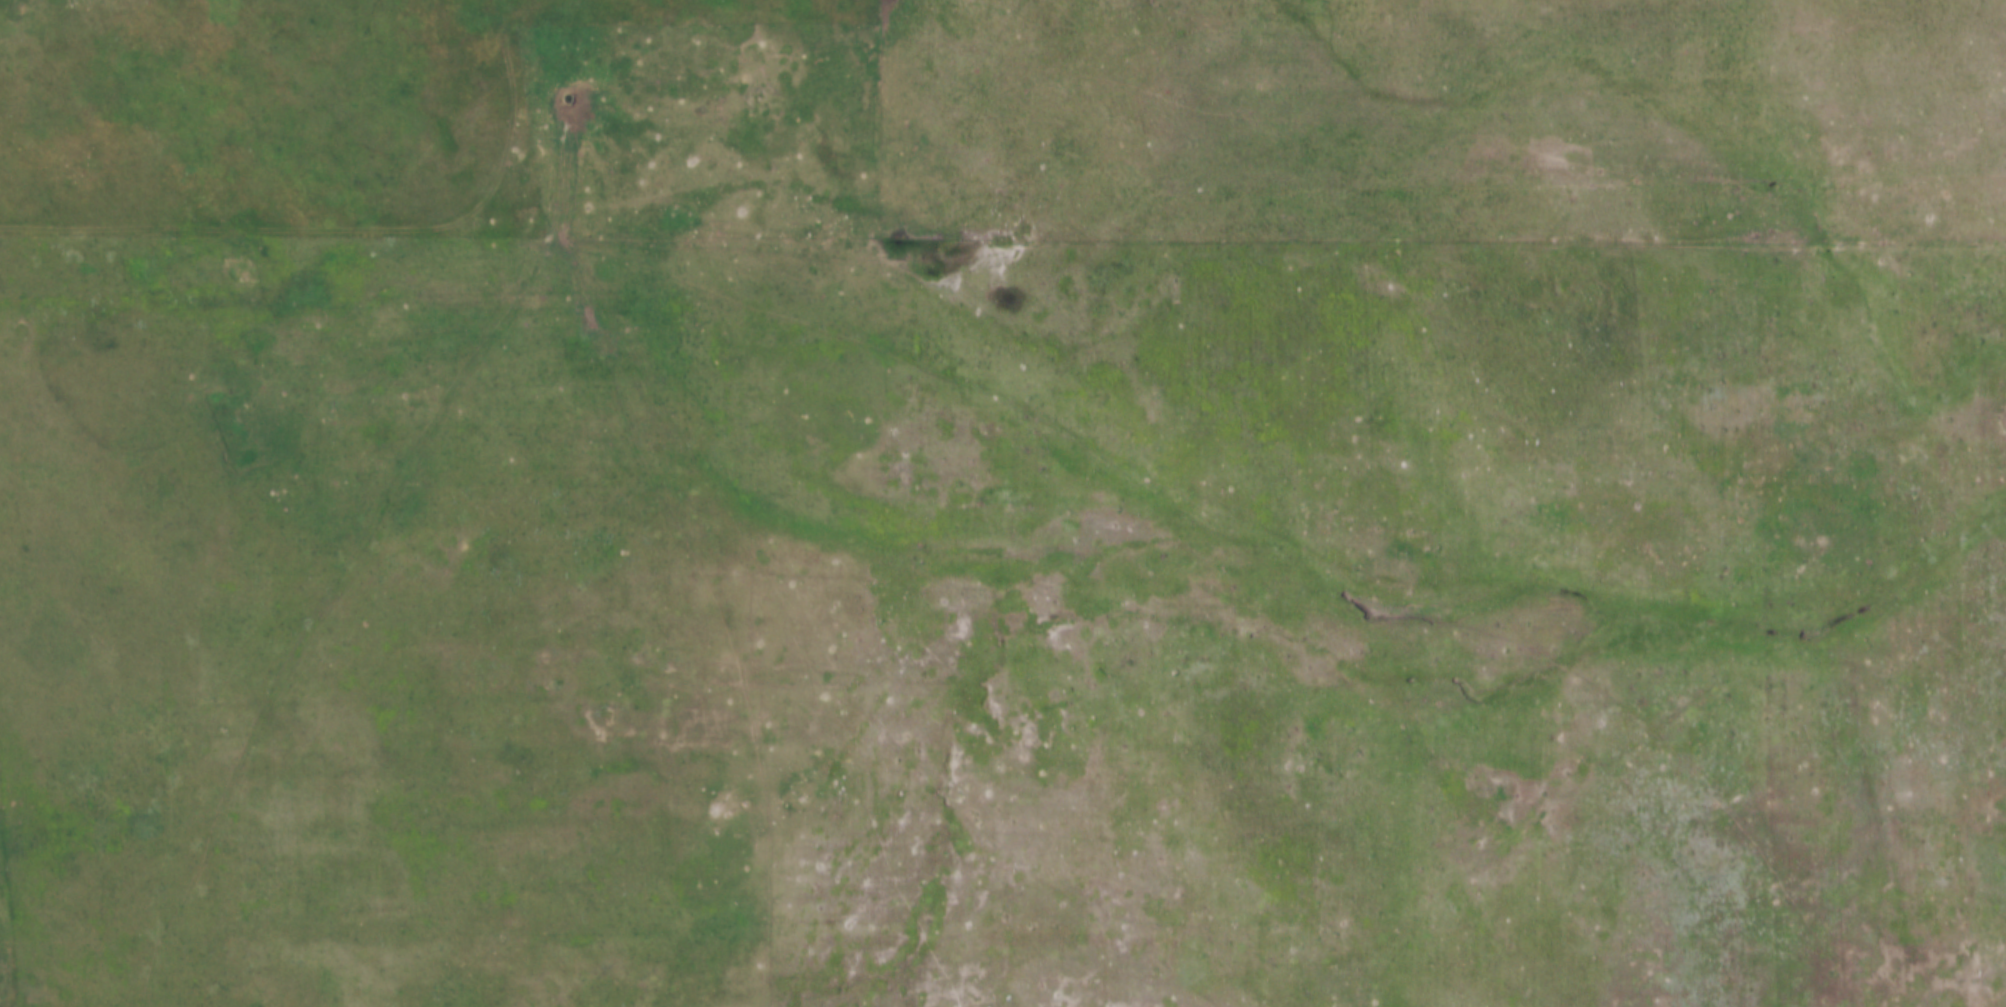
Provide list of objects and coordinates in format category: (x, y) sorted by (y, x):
road: (357, 227)

